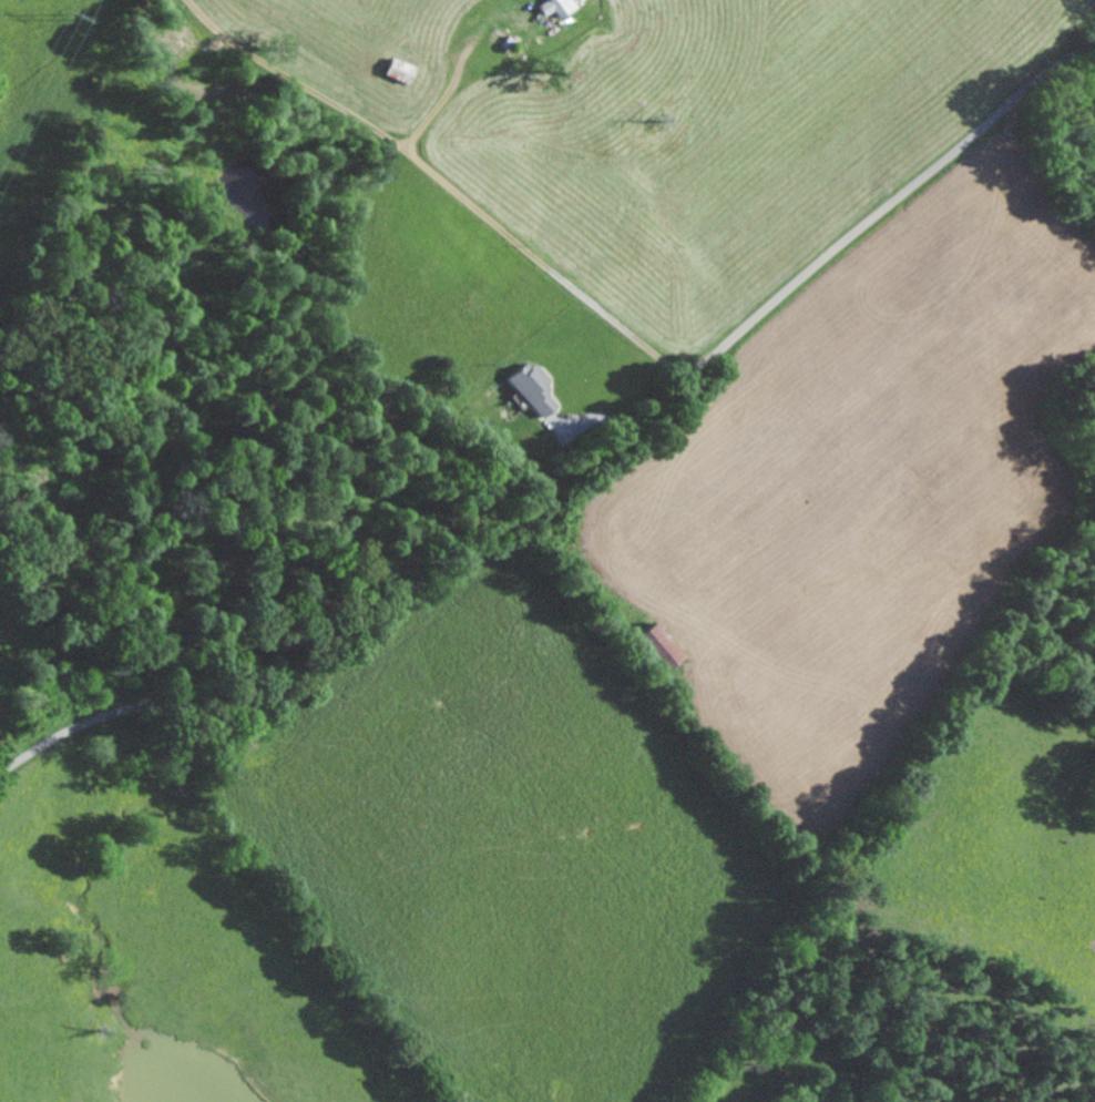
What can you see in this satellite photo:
building: (560, 6)
power tower: (66, 18)
building: (405, 70)
road: (464, 200)
building: (538, 388)
road: (576, 469)

